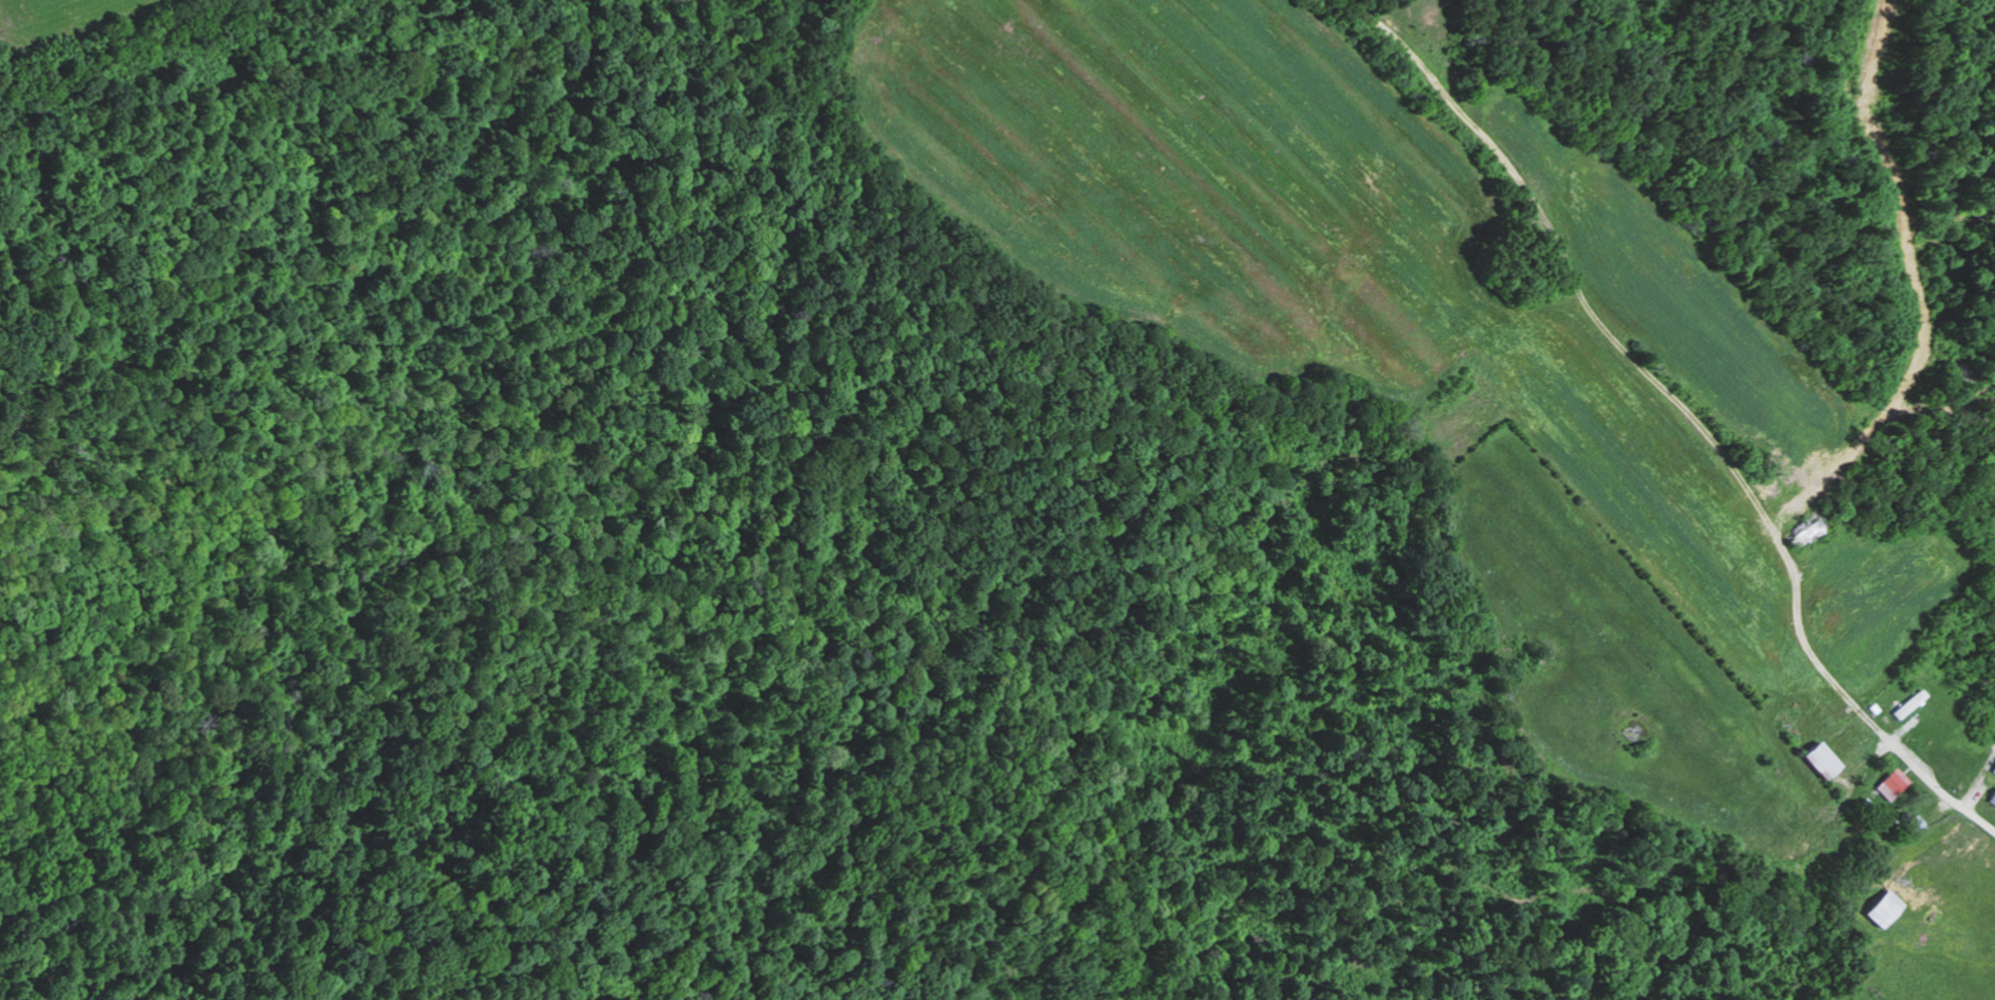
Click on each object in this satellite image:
building: (1822, 761)
building: (1893, 784)
building: (1992, 799)
road: (1978, 823)
building: (1917, 825)
building: (1885, 909)

